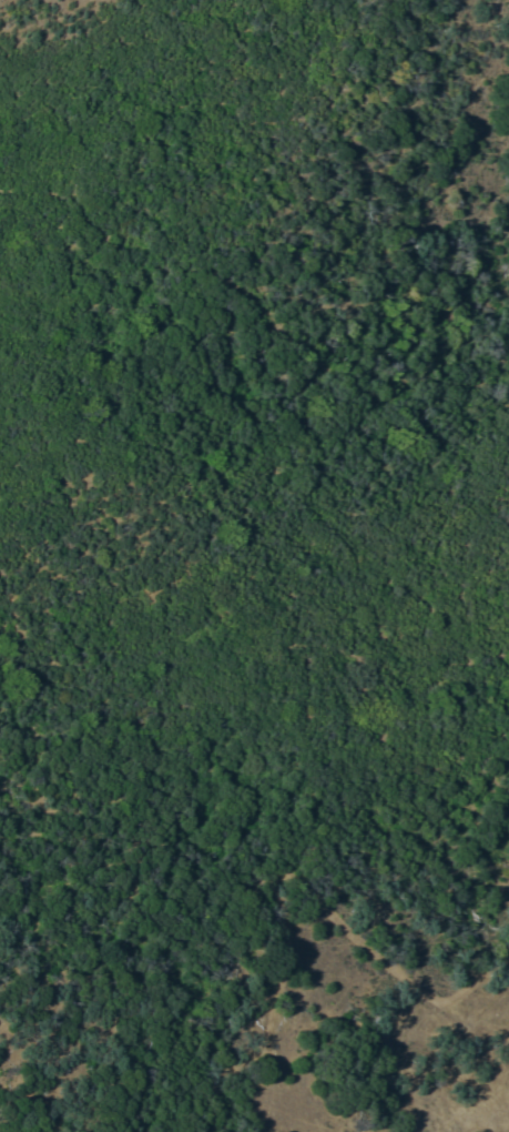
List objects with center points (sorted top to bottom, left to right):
road: (278, 882)

